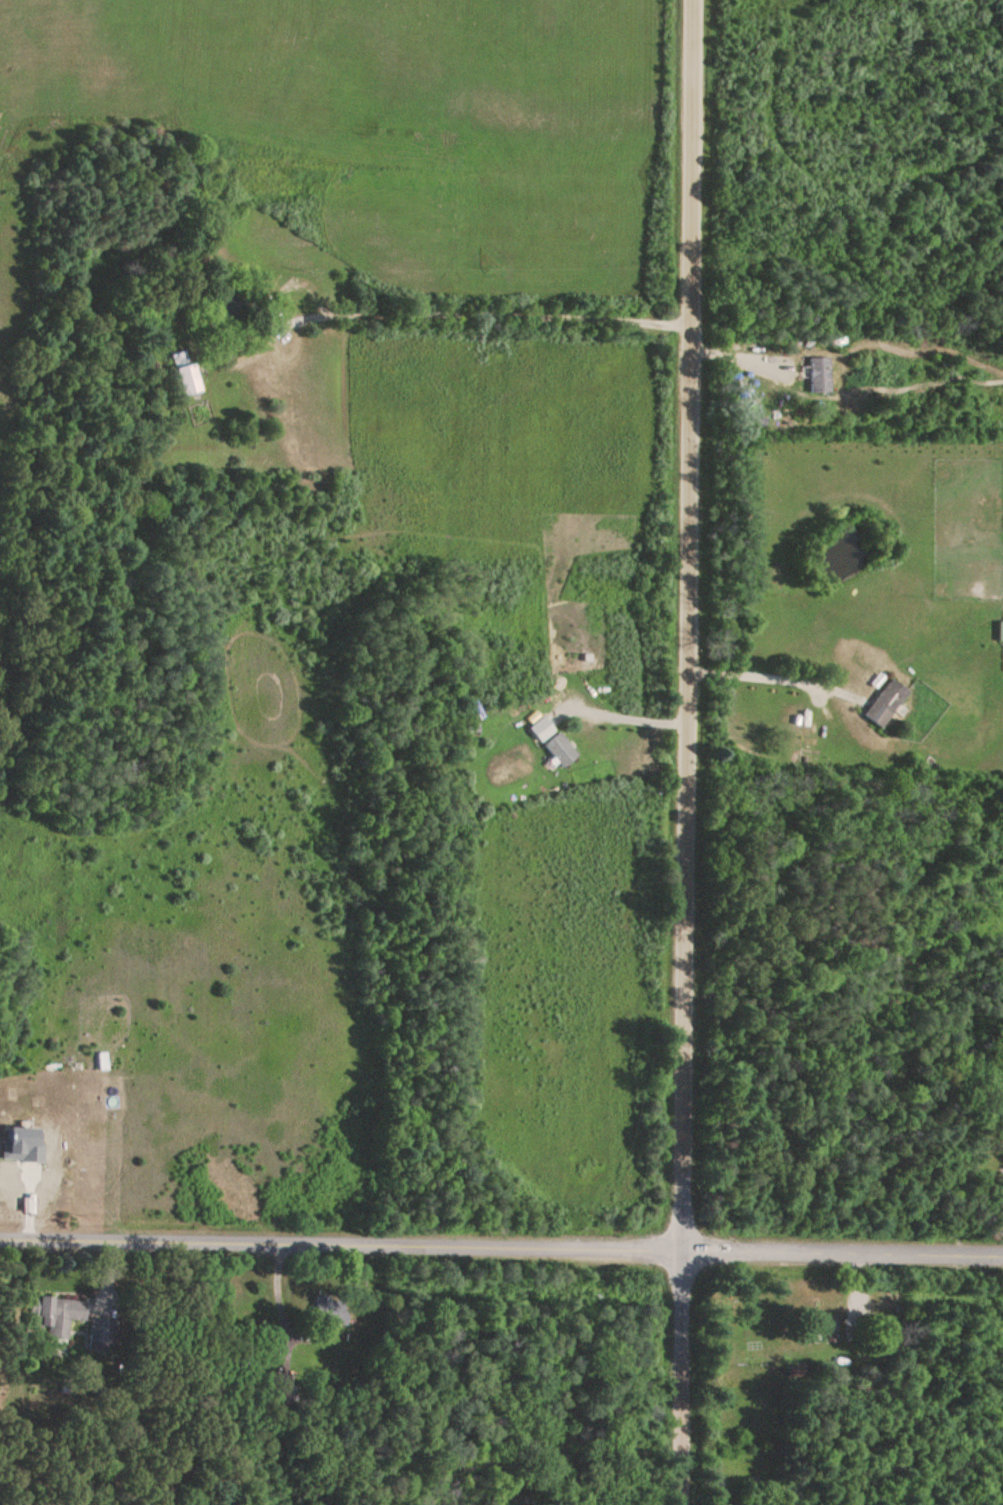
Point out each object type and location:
road: (470, 315)
building: (186, 374)
building: (819, 377)
building: (1000, 634)
road: (779, 673)
building: (885, 705)
road: (617, 717)
road: (693, 752)
building: (560, 753)
road: (501, 1249)
building: (330, 1311)
building: (55, 1317)
building: (829, 1331)

